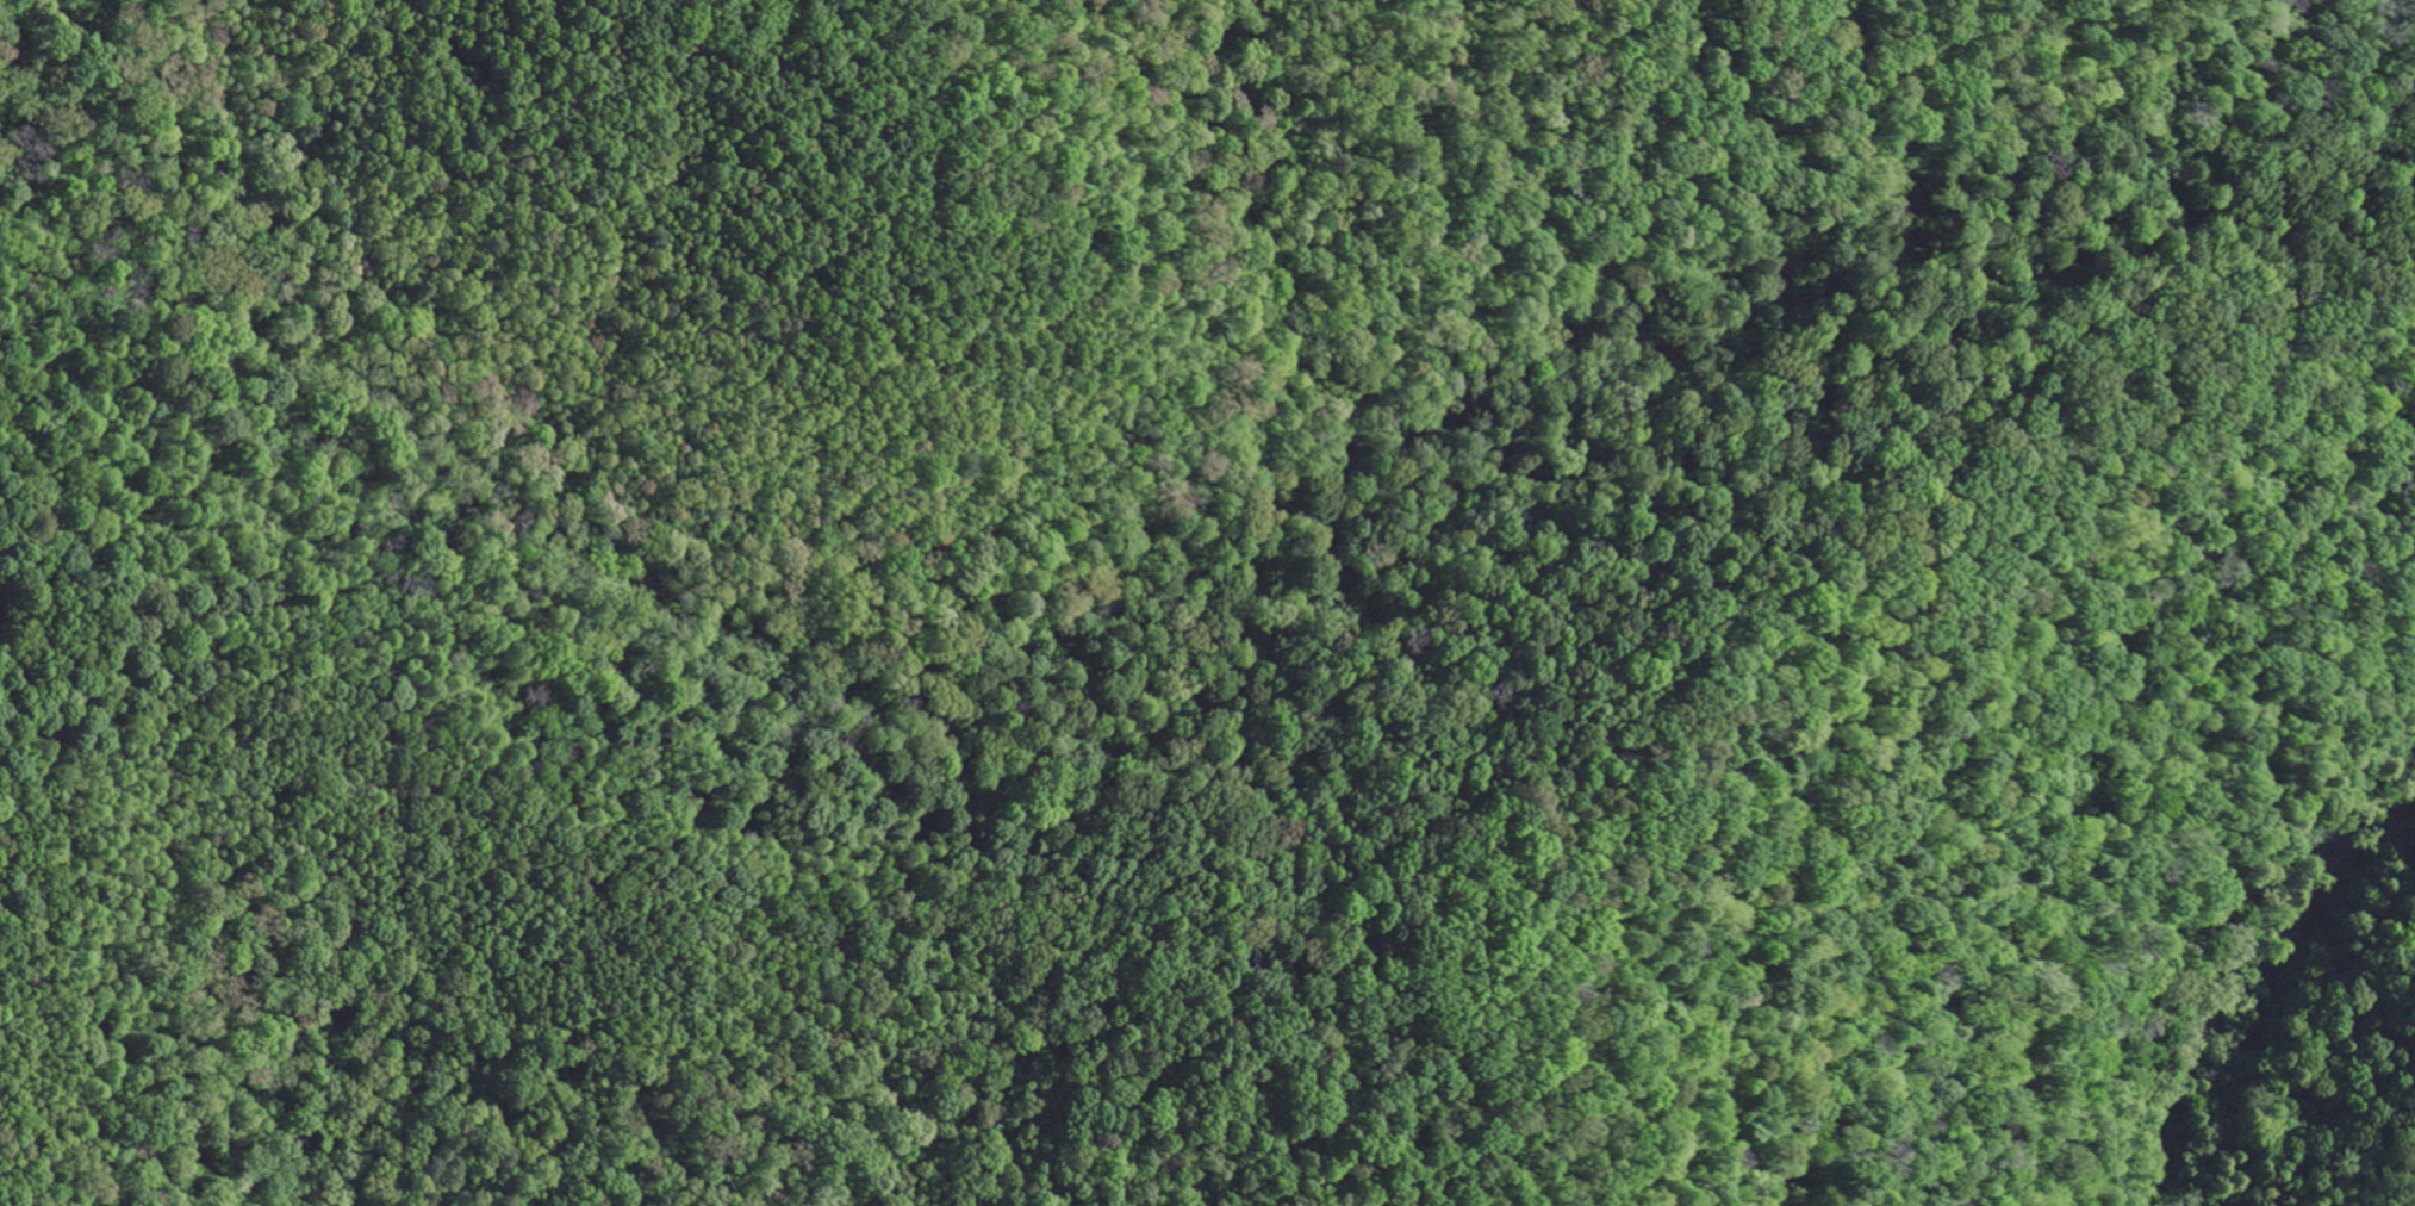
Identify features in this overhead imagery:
road: (2360, 1090)

